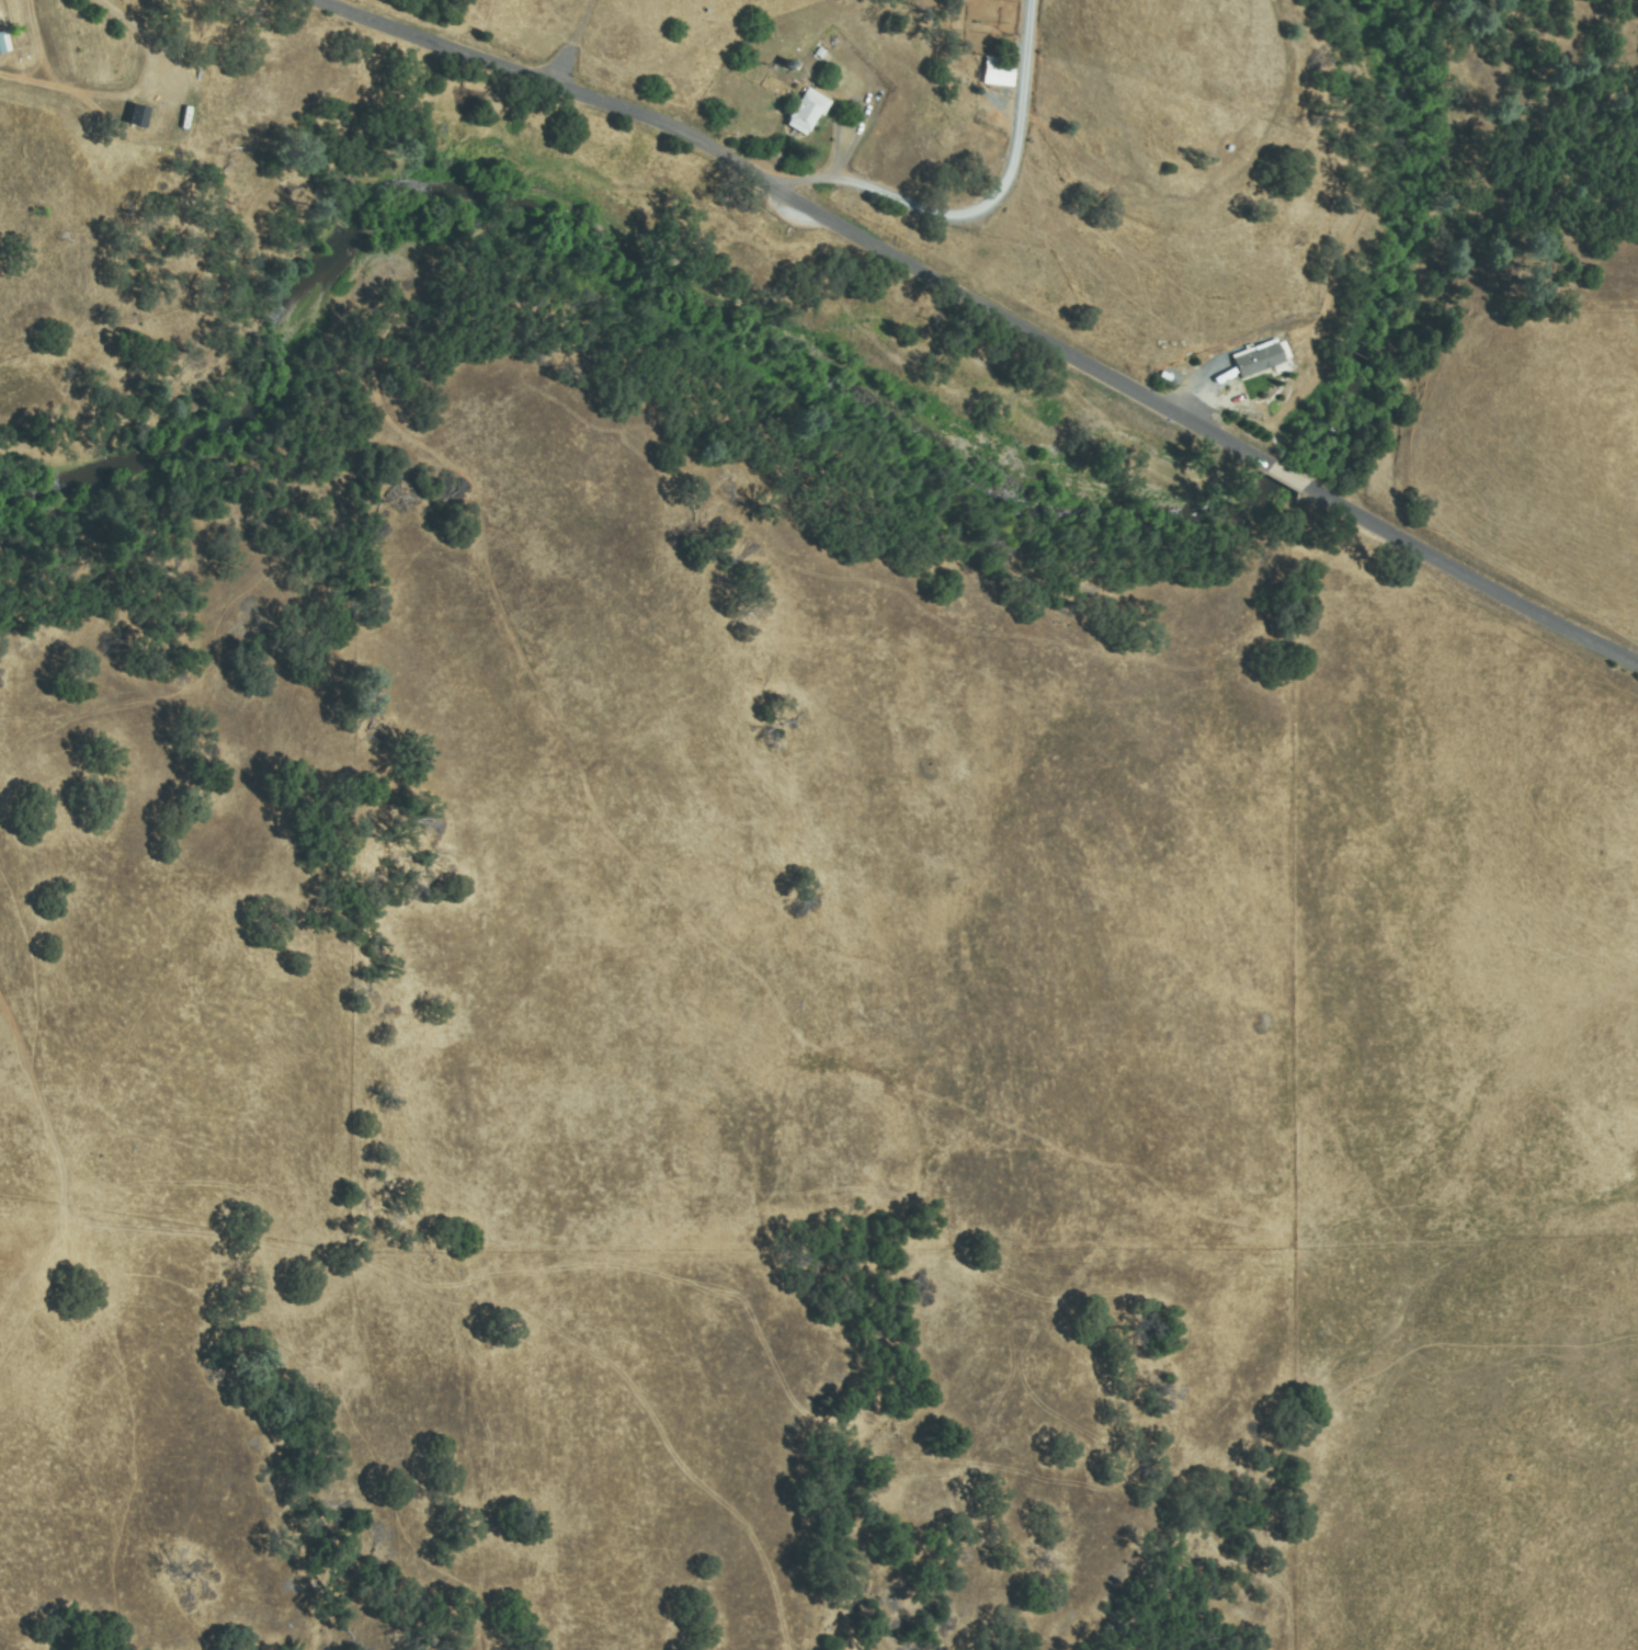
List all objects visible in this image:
building: (1, 46)
building: (998, 71)
building: (805, 112)
building: (137, 116)
building: (125, 117)
road: (981, 212)
road: (988, 307)
building: (1260, 357)

